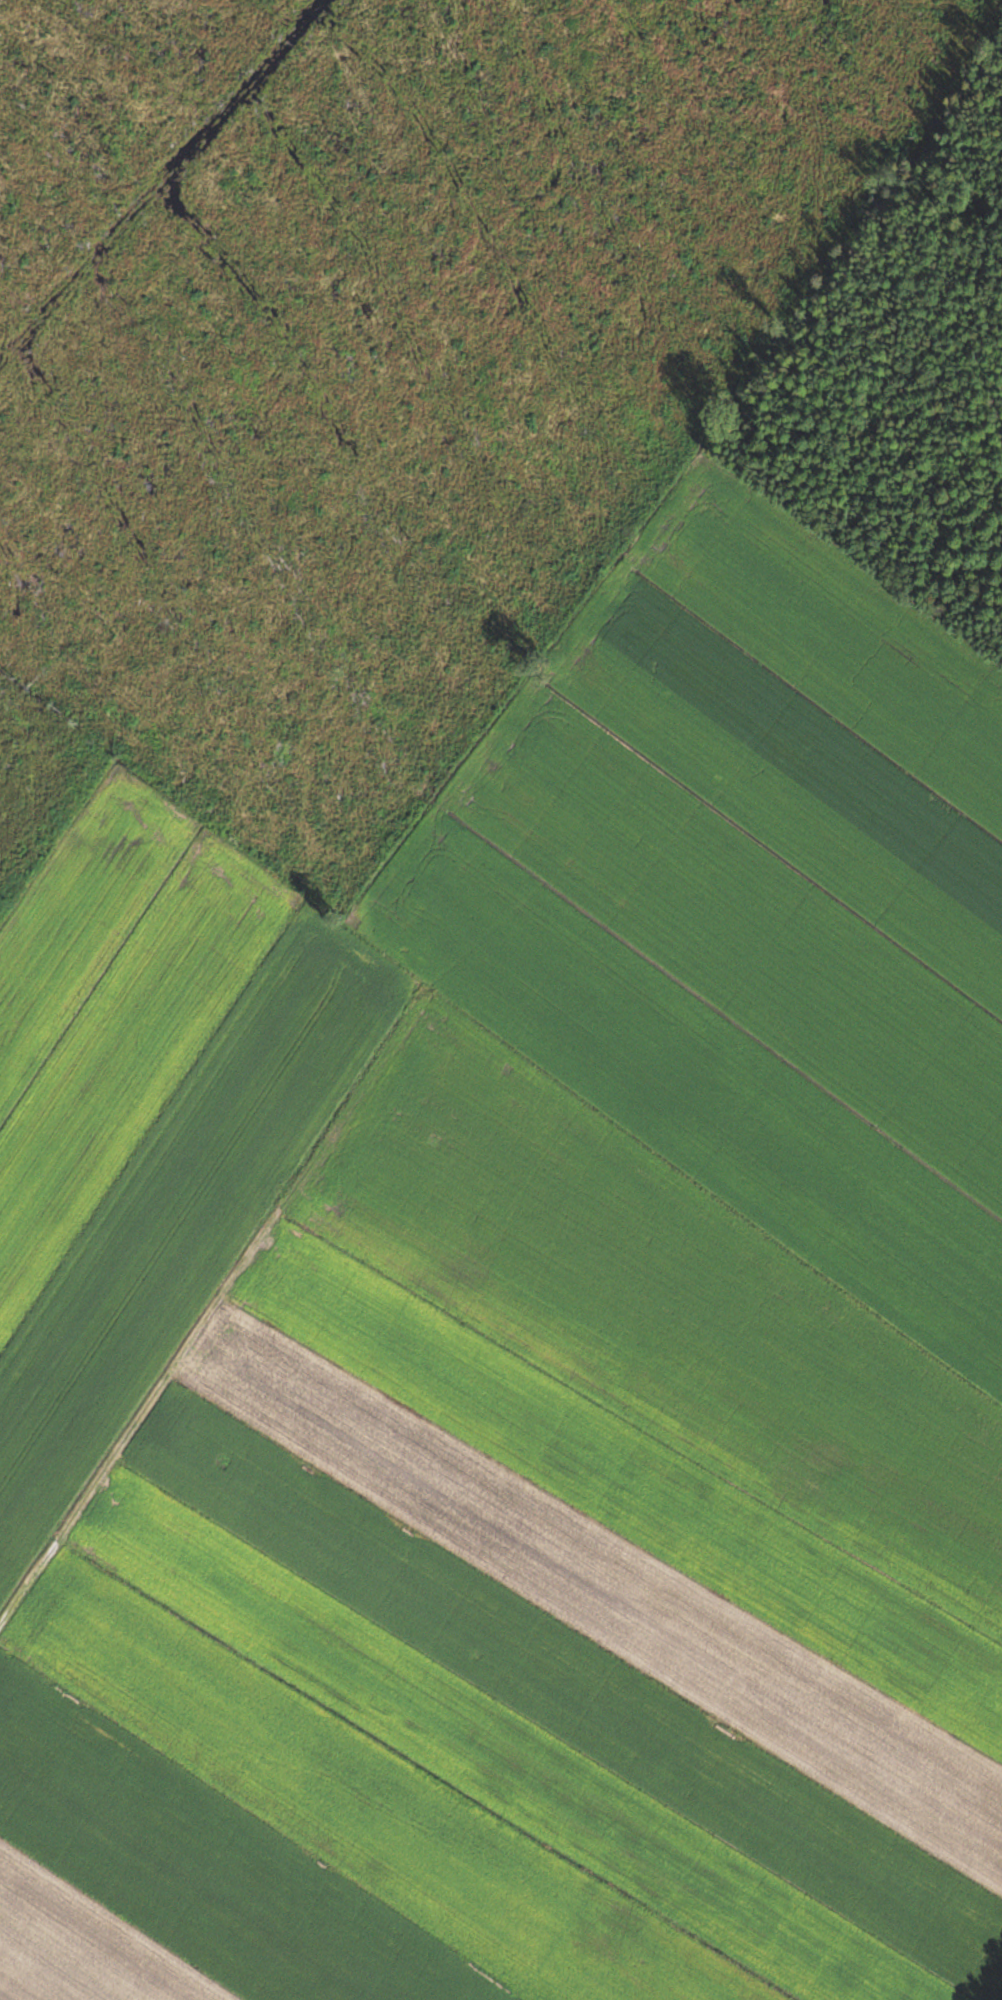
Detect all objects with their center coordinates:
road: (29, 1592)

